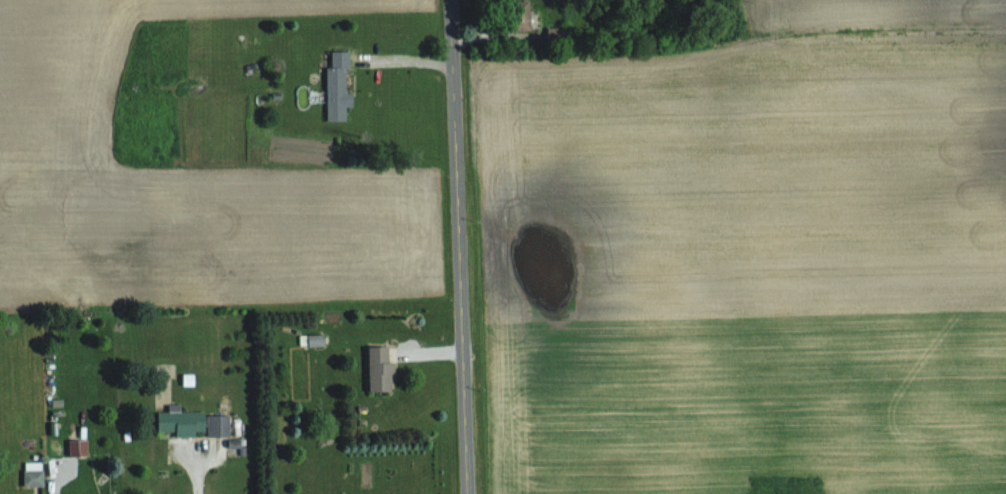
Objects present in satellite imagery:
building: (561, 34)
building: (340, 85)
road: (458, 246)
building: (383, 367)
building: (195, 422)
building: (80, 447)
road: (197, 472)
building: (36, 474)

